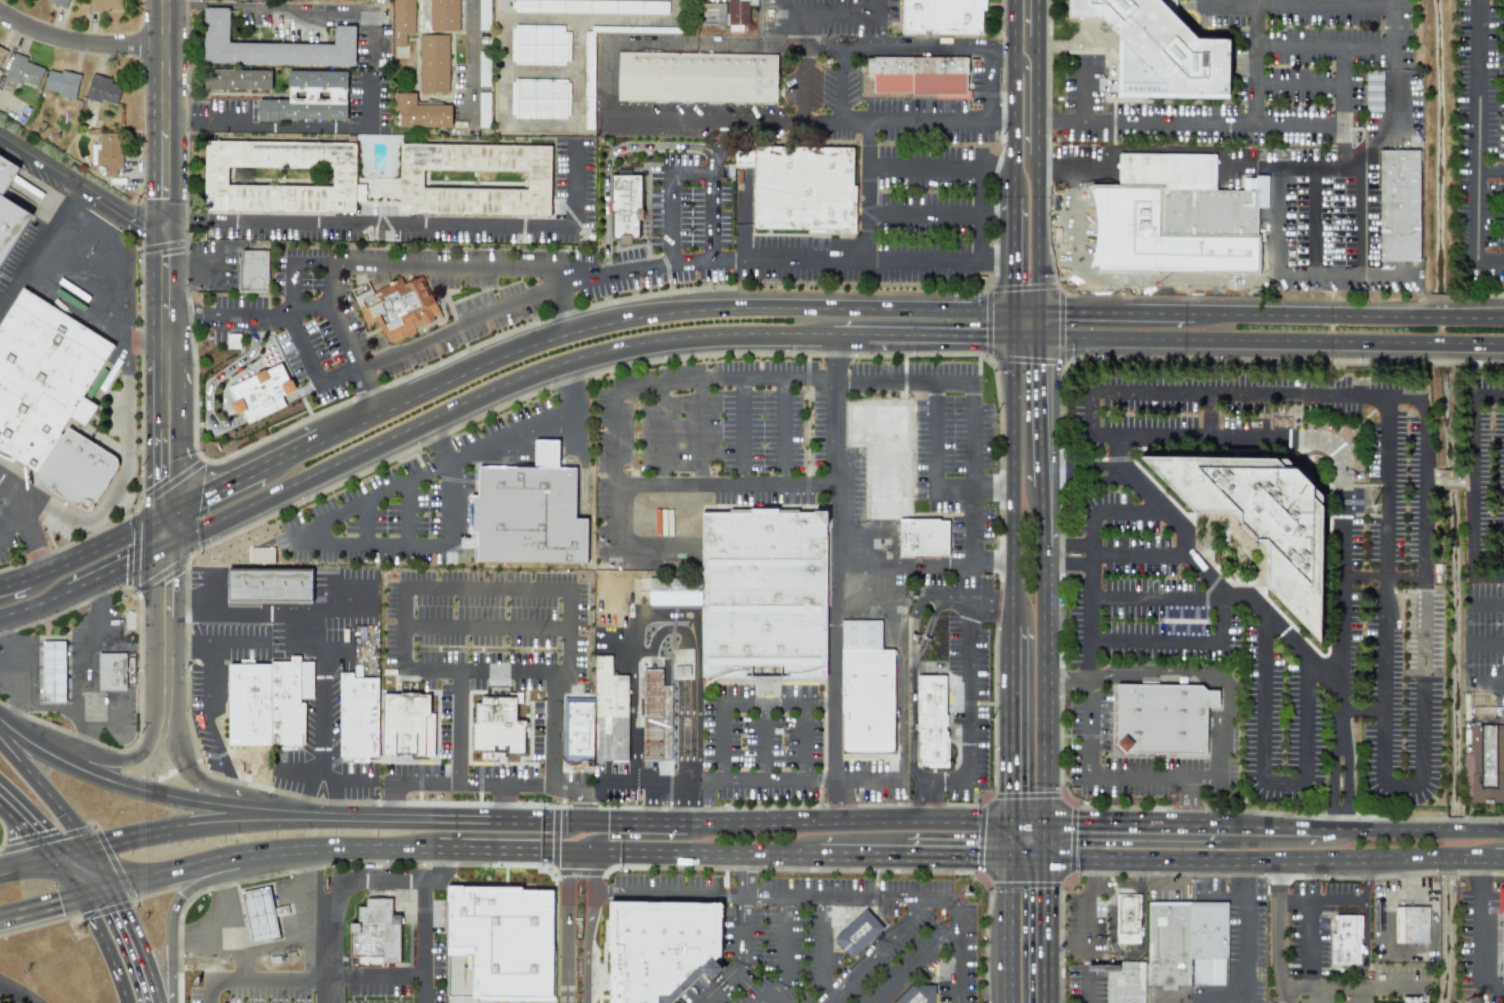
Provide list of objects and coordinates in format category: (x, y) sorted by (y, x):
building: (59, 2)
road: (1298, 3)
building: (105, 5)
building: (590, 6)
road: (292, 7)
road: (503, 8)
building: (739, 11)
road: (806, 13)
building: (712, 14)
building: (444, 15)
building: (484, 15)
building: (941, 15)
road: (637, 19)
road: (1038, 19)
building: (402, 21)
road: (1016, 25)
road: (80, 40)
building: (539, 44)
road: (1322, 44)
building: (271, 46)
road: (782, 47)
road: (917, 50)
road: (1004, 50)
building: (1, 51)
building: (1158, 51)
road: (472, 56)
road: (1253, 62)
building: (433, 63)
building: (484, 68)
building: (24, 71)
road: (539, 72)
building: (697, 76)
building: (915, 76)
building: (237, 79)
building: (588, 80)
building: (61, 83)
road: (1318, 83)
road: (802, 85)
road: (991, 85)
road: (1016, 86)
building: (103, 89)
road: (1081, 96)
building: (308, 97)
building: (539, 98)
road: (1344, 102)
road: (840, 108)
road: (1025, 108)
building: (484, 109)
building: (420, 112)
road: (166, 113)
road: (575, 121)
road: (1003, 121)
road: (1196, 121)
road: (1044, 122)
road: (621, 123)
road: (290, 126)
road: (1367, 128)
road: (1344, 144)
road: (1473, 147)
road: (720, 148)
road: (1136, 149)
building: (107, 152)
road: (1016, 156)
road: (609, 158)
road: (1044, 164)
road: (942, 165)
road: (1111, 165)
road: (1167, 165)
road: (1222, 166)
road: (1252, 166)
road: (1320, 167)
road: (1038, 175)
building: (279, 176)
building: (474, 179)
road: (81, 185)
building: (804, 188)
road: (866, 188)
road: (573, 190)
road: (670, 199)
building: (1195, 200)
building: (1398, 205)
building: (625, 208)
road: (941, 209)
road: (713, 217)
road: (1316, 220)
building: (8, 222)
road: (369, 229)
road: (40, 246)
road: (1015, 250)
parking lot: (19, 251)
road: (114, 254)
road: (1276, 265)
road: (166, 268)
building: (254, 272)
road: (625, 272)
road: (1389, 274)
road: (1120, 277)
building: (400, 306)
road: (567, 306)
road: (653, 311)
traffic signals: (1015, 311)
road: (1026, 311)
traffic signals: (1038, 311)
road: (1115, 312)
road: (1307, 315)
road: (246, 316)
road: (332, 317)
road: (1437, 317)
road: (1478, 318)
road: (1015, 323)
road: (1038, 324)
road: (845, 336)
road: (940, 336)
traffic signals: (1015, 336)
road: (1027, 336)
traffic signals: (1039, 337)
road: (1230, 339)
road: (1437, 342)
road: (1478, 343)
road: (404, 348)
building: (42, 375)
road: (766, 376)
road: (211, 381)
road: (558, 383)
road: (301, 390)
road: (369, 390)
building: (262, 392)
road: (482, 396)
road: (264, 406)
road: (165, 412)
road: (1041, 412)
road: (1209, 413)
road: (1477, 423)
road: (701, 429)
road: (743, 429)
road: (780, 430)
road: (659, 433)
road: (1320, 441)
road: (519, 444)
road: (290, 457)
building: (883, 457)
road: (126, 464)
building: (76, 469)
road: (1385, 471)
road: (934, 475)
road: (1428, 477)
road: (1450, 477)
road: (1472, 478)
road: (171, 480)
road: (1014, 481)
road: (727, 484)
road: (213, 494)
power tower: (1369, 505)
road: (446, 506)
road: (1044, 506)
road: (1109, 510)
road: (409, 513)
building: (528, 514)
traffic signals: (165, 517)
building: (1261, 519)
road: (28, 523)
road: (363, 524)
road: (14, 529)
parking lot: (2, 530)
road: (165, 534)
building: (924, 537)
road: (1474, 541)
road: (1070, 543)
traffic signals: (165, 552)
road: (83, 555)
road: (1138, 555)
road: (924, 561)
road: (1071, 565)
road: (1092, 566)
road: (117, 573)
road: (834, 579)
road: (134, 581)
building: (269, 585)
road: (28, 593)
building: (764, 593)
road: (988, 596)
road: (1156, 596)
road: (405, 597)
road: (1486, 605)
road: (35, 609)
road: (266, 612)
road: (931, 620)
road: (559, 628)
road: (165, 630)
road: (1345, 630)
parking lot: (489, 638)
road: (1151, 640)
road: (1489, 640)
road: (176, 643)
road: (225, 643)
road: (1091, 660)
road: (14, 663)
road: (140, 668)
building: (53, 670)
building: (111, 672)
road: (912, 672)
road: (1045, 673)
road: (1198, 673)
road: (86, 676)
road: (1068, 680)
road: (1490, 684)
building: (866, 691)
road: (900, 702)
road: (819, 704)
building: (251, 705)
road: (724, 705)
building: (288, 706)
road: (973, 711)
road: (1362, 712)
road: (207, 713)
building: (609, 713)
road: (12, 715)
road: (695, 715)
road: (326, 716)
building: (655, 717)
building: (930, 717)
building: (359, 718)
building: (1162, 718)
road: (634, 719)
road: (188, 722)
road: (6, 723)
road: (115, 723)
road: (1010, 724)
building: (577, 728)
building: (408, 729)
road: (88, 732)
building: (513, 732)
road: (556, 733)
road: (1085, 735)
parking lot: (765, 740)
road: (765, 743)
road: (803, 743)
road: (824, 744)
road: (1134, 754)
road: (1344, 757)
road: (123, 760)
building: (1487, 763)
road: (1222, 765)
road: (186, 768)
road: (890, 768)
road: (463, 771)
road: (1109, 774)
parking lot: (507, 778)
road: (1263, 779)
parking lot: (874, 780)
road: (733, 782)
road: (119, 784)
road: (540, 787)
road: (45, 791)
road: (512, 792)
road: (234, 793)
road: (1025, 794)
road: (1066, 798)
road: (1189, 799)
road: (927, 801)
road: (14, 802)
road: (711, 803)
road: (648, 804)
road: (388, 806)
road: (505, 807)
road: (797, 807)
road: (579, 808)
road: (276, 813)
road: (367, 821)
road: (1004, 821)
road: (463, 822)
traffic signals: (1010, 822)
traffic signals: (1049, 822)
road: (234, 825)
road: (2, 833)
road: (45, 834)
road: (489, 834)
road: (636, 836)
road: (980, 839)
road: (1073, 839)
road: (1010, 840)
road: (121, 841)
road: (1048, 841)
road: (105, 848)
traffic signals: (86, 849)
road: (461, 851)
road: (75, 852)
traffic signals: (64, 855)
road: (861, 857)
road: (957, 858)
road: (1498, 858)
traffic signals: (1010, 859)
road: (1029, 859)
traffic signals: (1048, 860)
road: (32, 863)
road: (1270, 863)
road: (436, 867)
road: (97, 870)
road: (75, 875)
road: (743, 875)
road: (1366, 880)
road: (208, 882)
road: (337, 885)
road: (1026, 885)
traffic signals: (109, 891)
road: (666, 891)
road: (98, 893)
traffic signals: (87, 896)
road: (1295, 897)
road: (900, 898)
road: (299, 899)
road: (43, 907)
road: (1309, 911)
building: (260, 915)
building: (1127, 918)
road: (1089, 923)
road: (1280, 923)
building: (1411, 924)
building: (1501, 924)
road: (564, 926)
road: (589, 926)
road: (213, 927)
road: (1477, 927)
power tower: (87, 931)
road: (1010, 931)
road: (1048, 931)
building: (858, 933)
road: (1243, 933)
building: (374, 934)
building: (1346, 938)
building: (1208, 941)
building: (500, 943)
road: (276, 944)
building: (1168, 944)
road: (229, 945)
road: (823, 945)
road: (131, 946)
building: (660, 948)
road: (109, 949)
road: (873, 950)
road: (1130, 953)
road: (786, 955)
road: (741, 957)
road: (1365, 961)
road: (914, 965)
road: (422, 974)
road: (1088, 974)
road: (270, 981)
building: (1126, 983)
road: (1331, 984)
road: (1392, 985)
road: (421, 989)
road: (1287, 991)
road: (209, 992)
road: (16, 993)
road: (329, 993)
road: (1320, 993)
building: (917, 994)
building: (1396, 1002)

